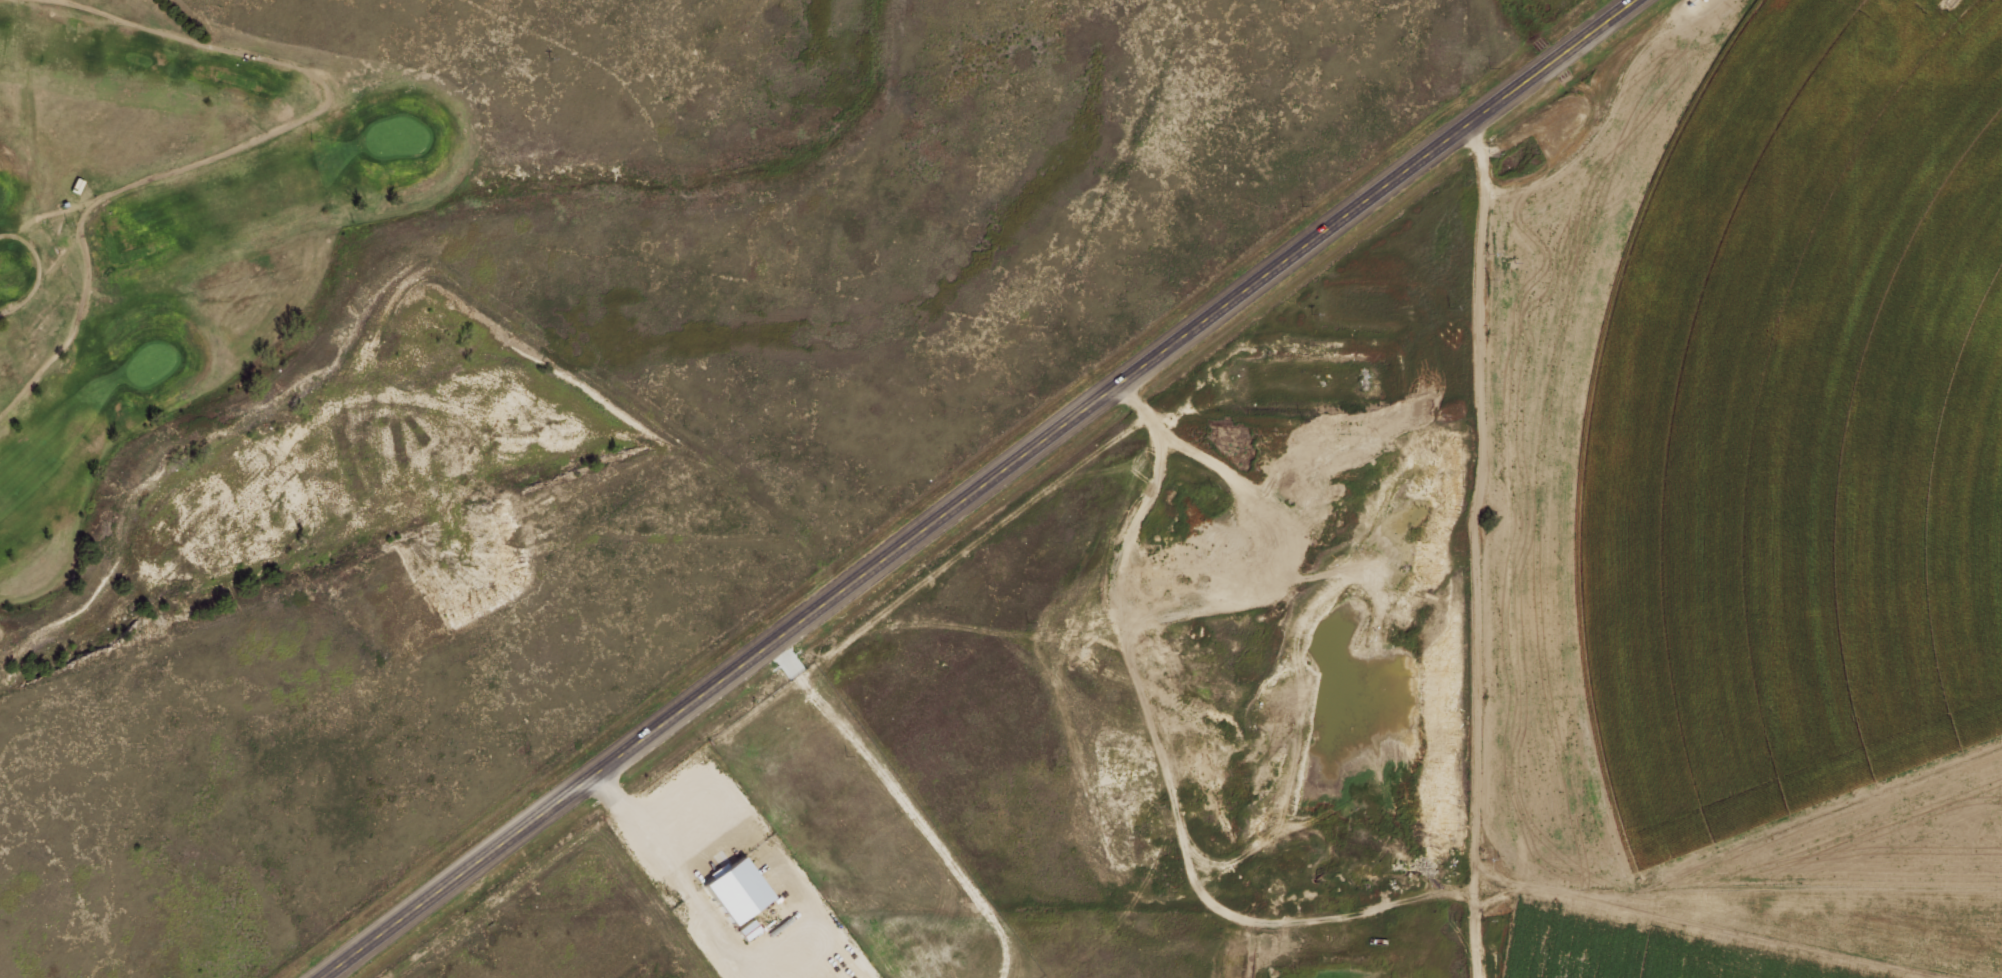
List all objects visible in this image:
park: (216, 265)
road: (981, 489)
building: (735, 890)

